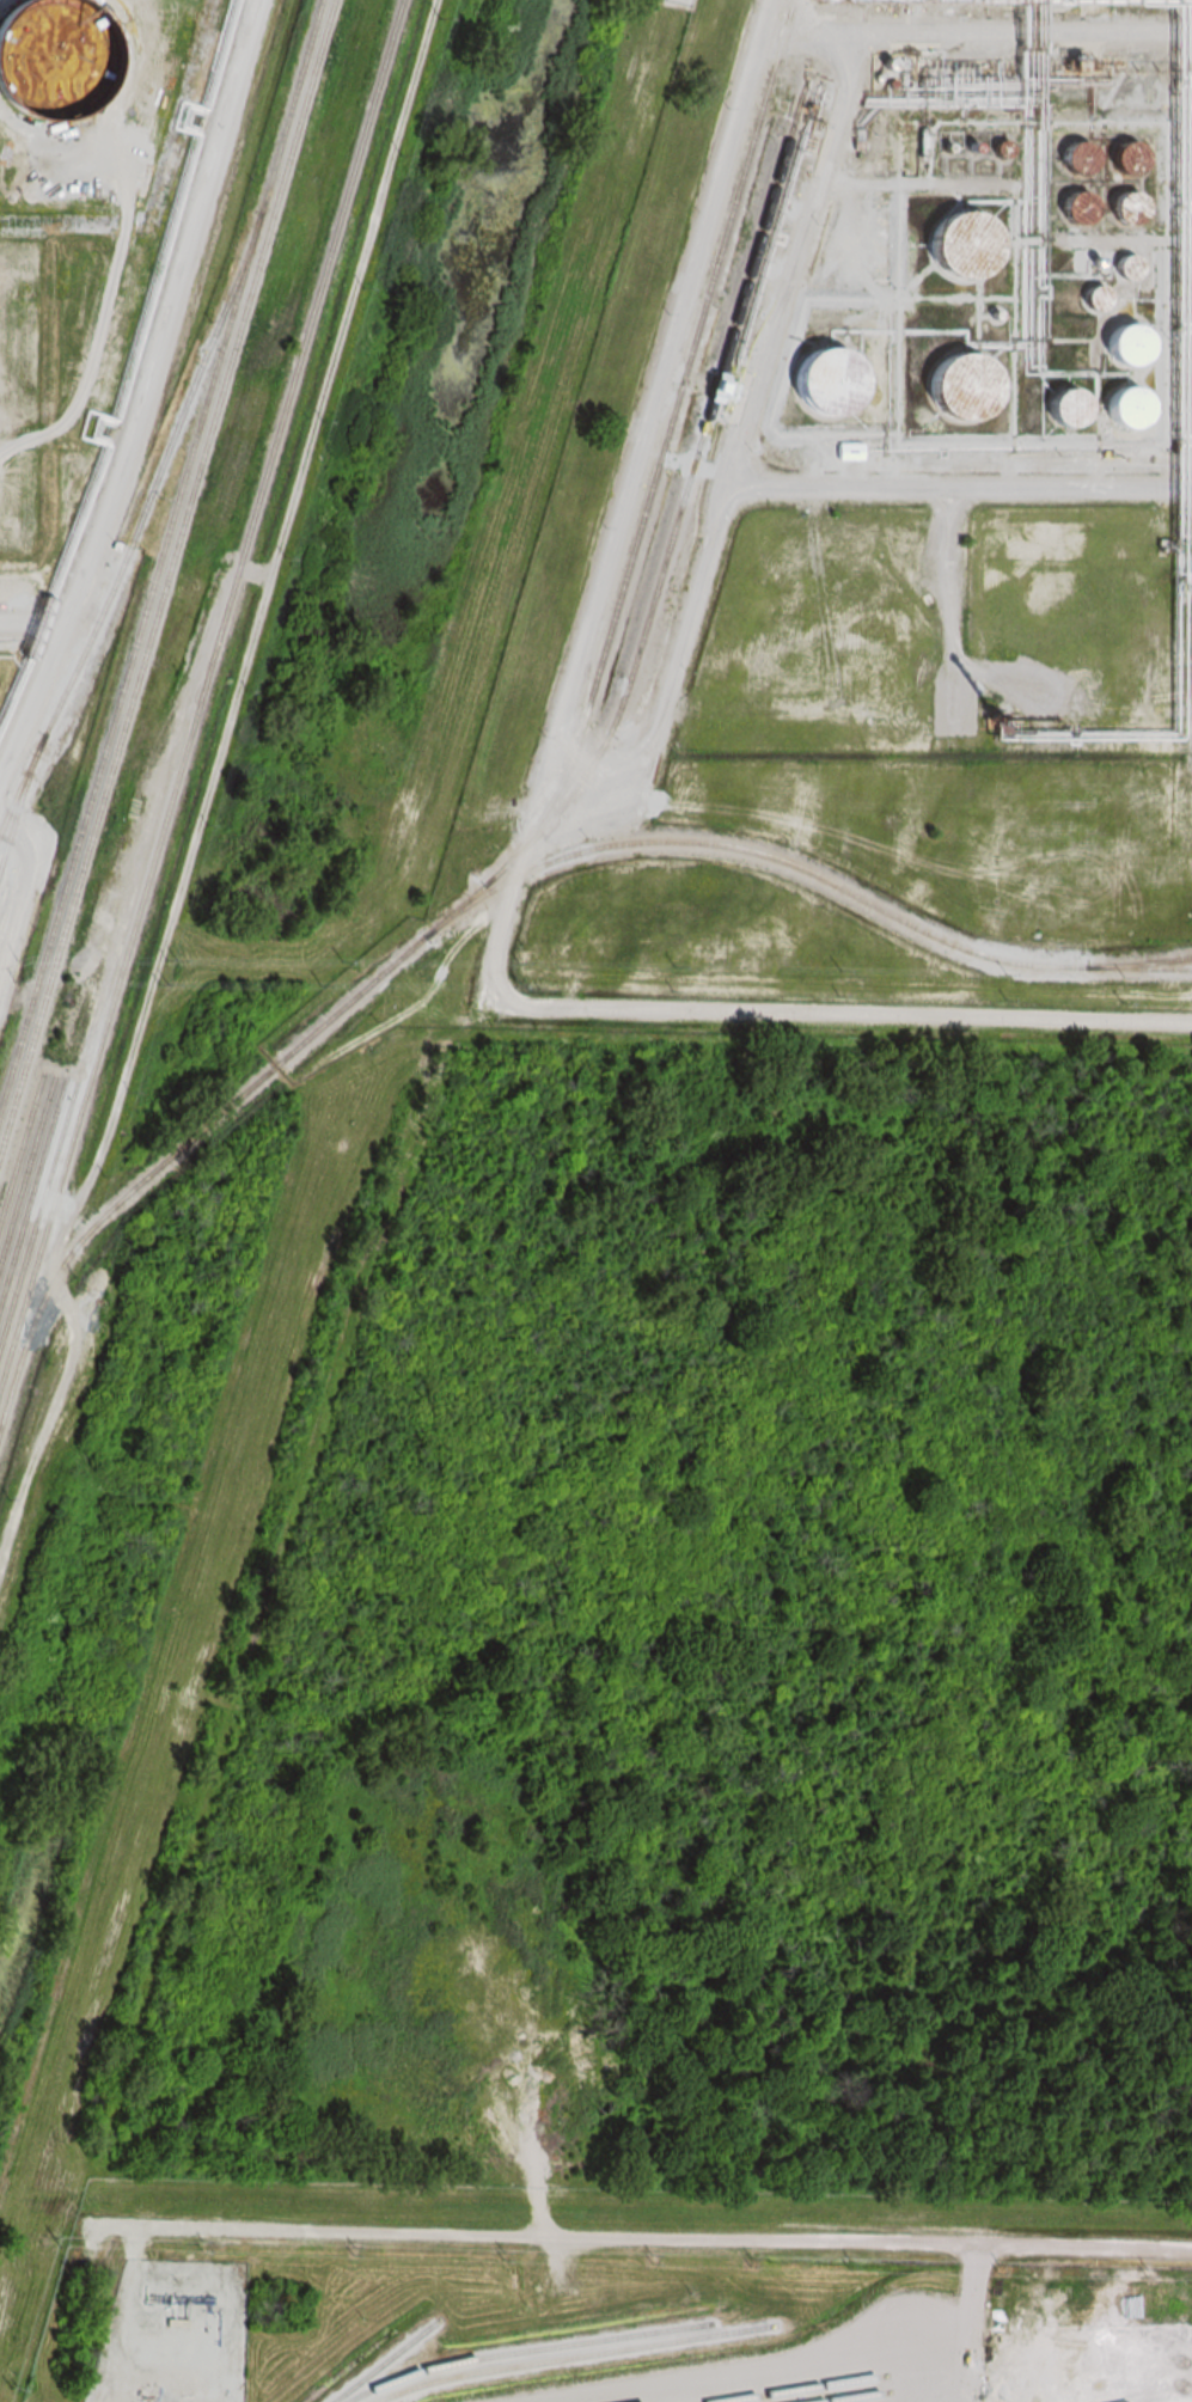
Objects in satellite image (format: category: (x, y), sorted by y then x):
storage tank: (61, 50)
building: (56, 61)
building: (1129, 161)
building: (1080, 163)
building: (1129, 209)
building: (1078, 210)
building: (958, 242)
building: (1119, 340)
building: (947, 369)
building: (821, 373)
road: (142, 384)
building: (1062, 404)
building: (1119, 405)

